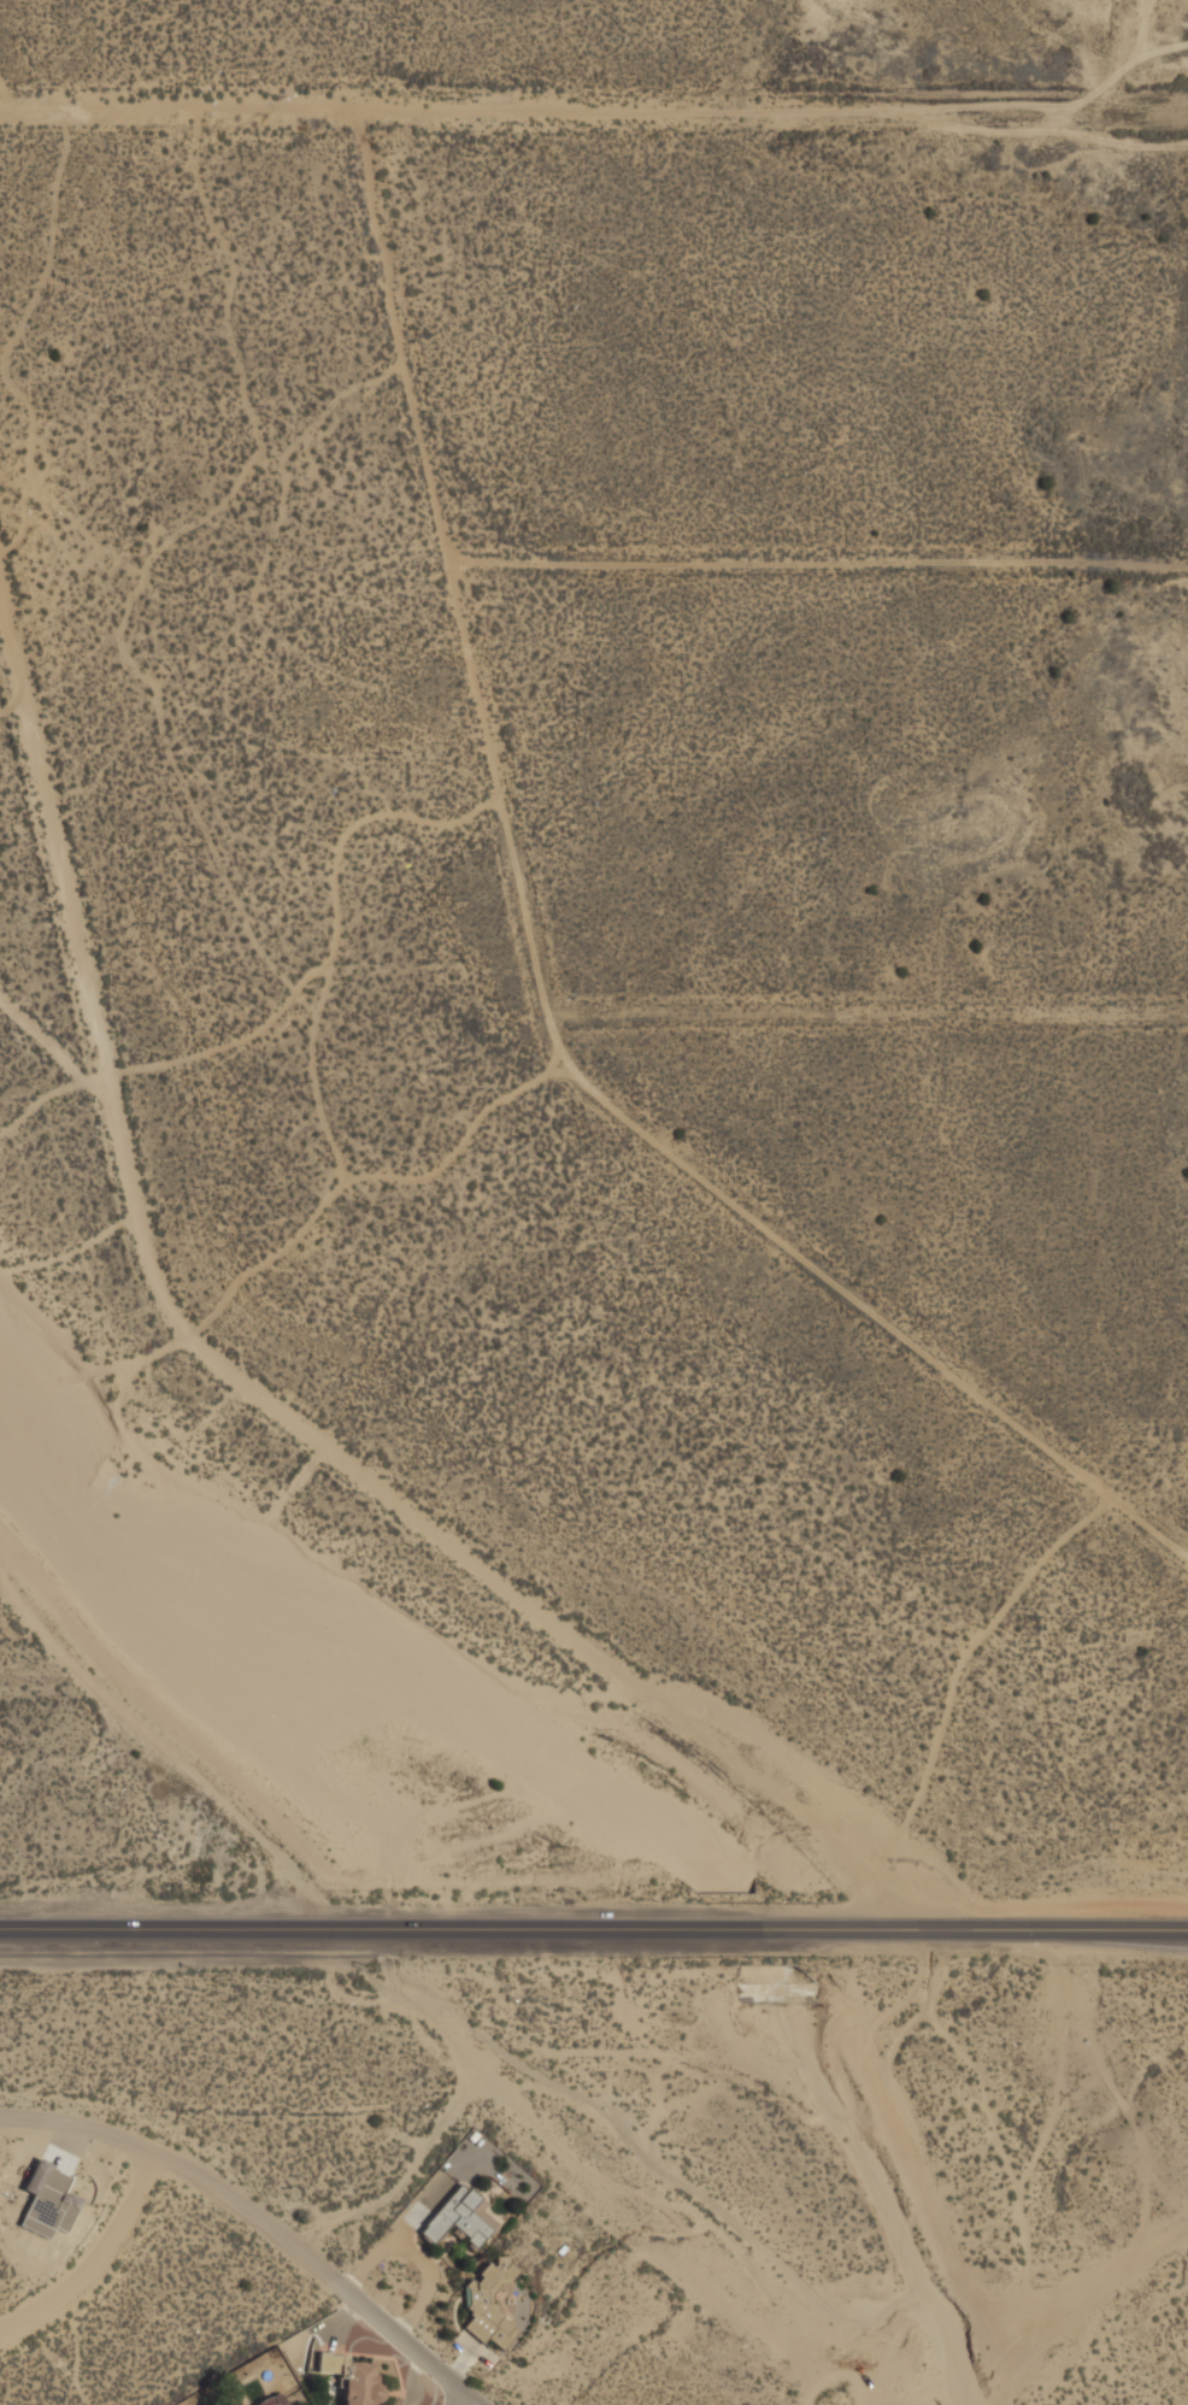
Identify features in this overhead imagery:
road: (170, 1292)
river: (320, 1709)
road: (594, 1927)
river: (752, 1933)
river: (886, 2180)
building: (48, 2200)
building: (459, 2215)
road: (259, 2219)
road: (96, 2259)
building: (488, 2304)
road: (1035, 2316)
building: (353, 2377)
building: (272, 2399)
road: (475, 2404)

